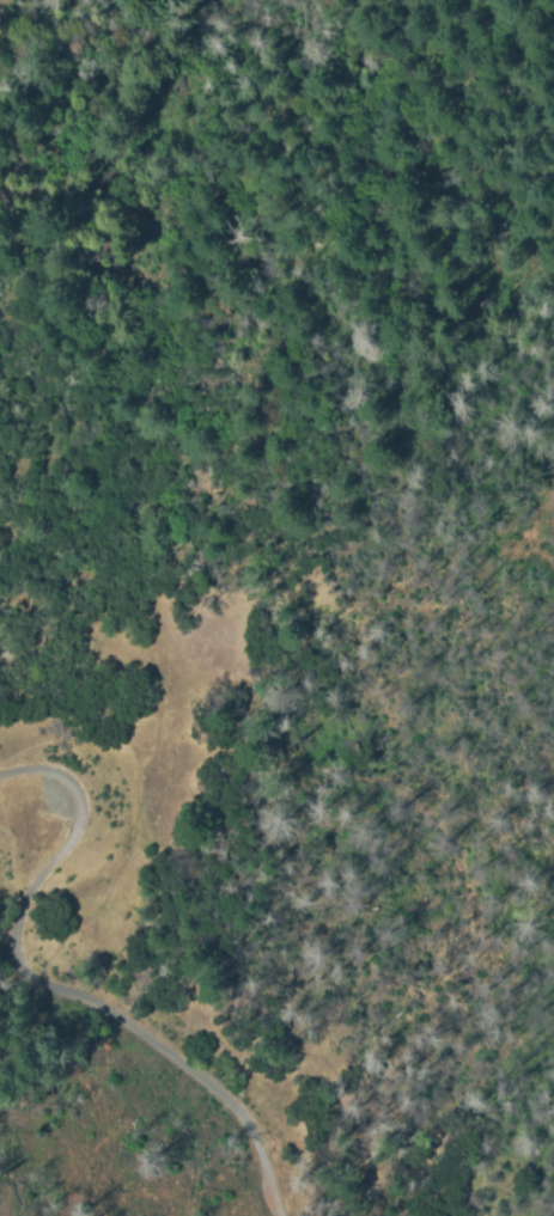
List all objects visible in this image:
road: (54, 989)

